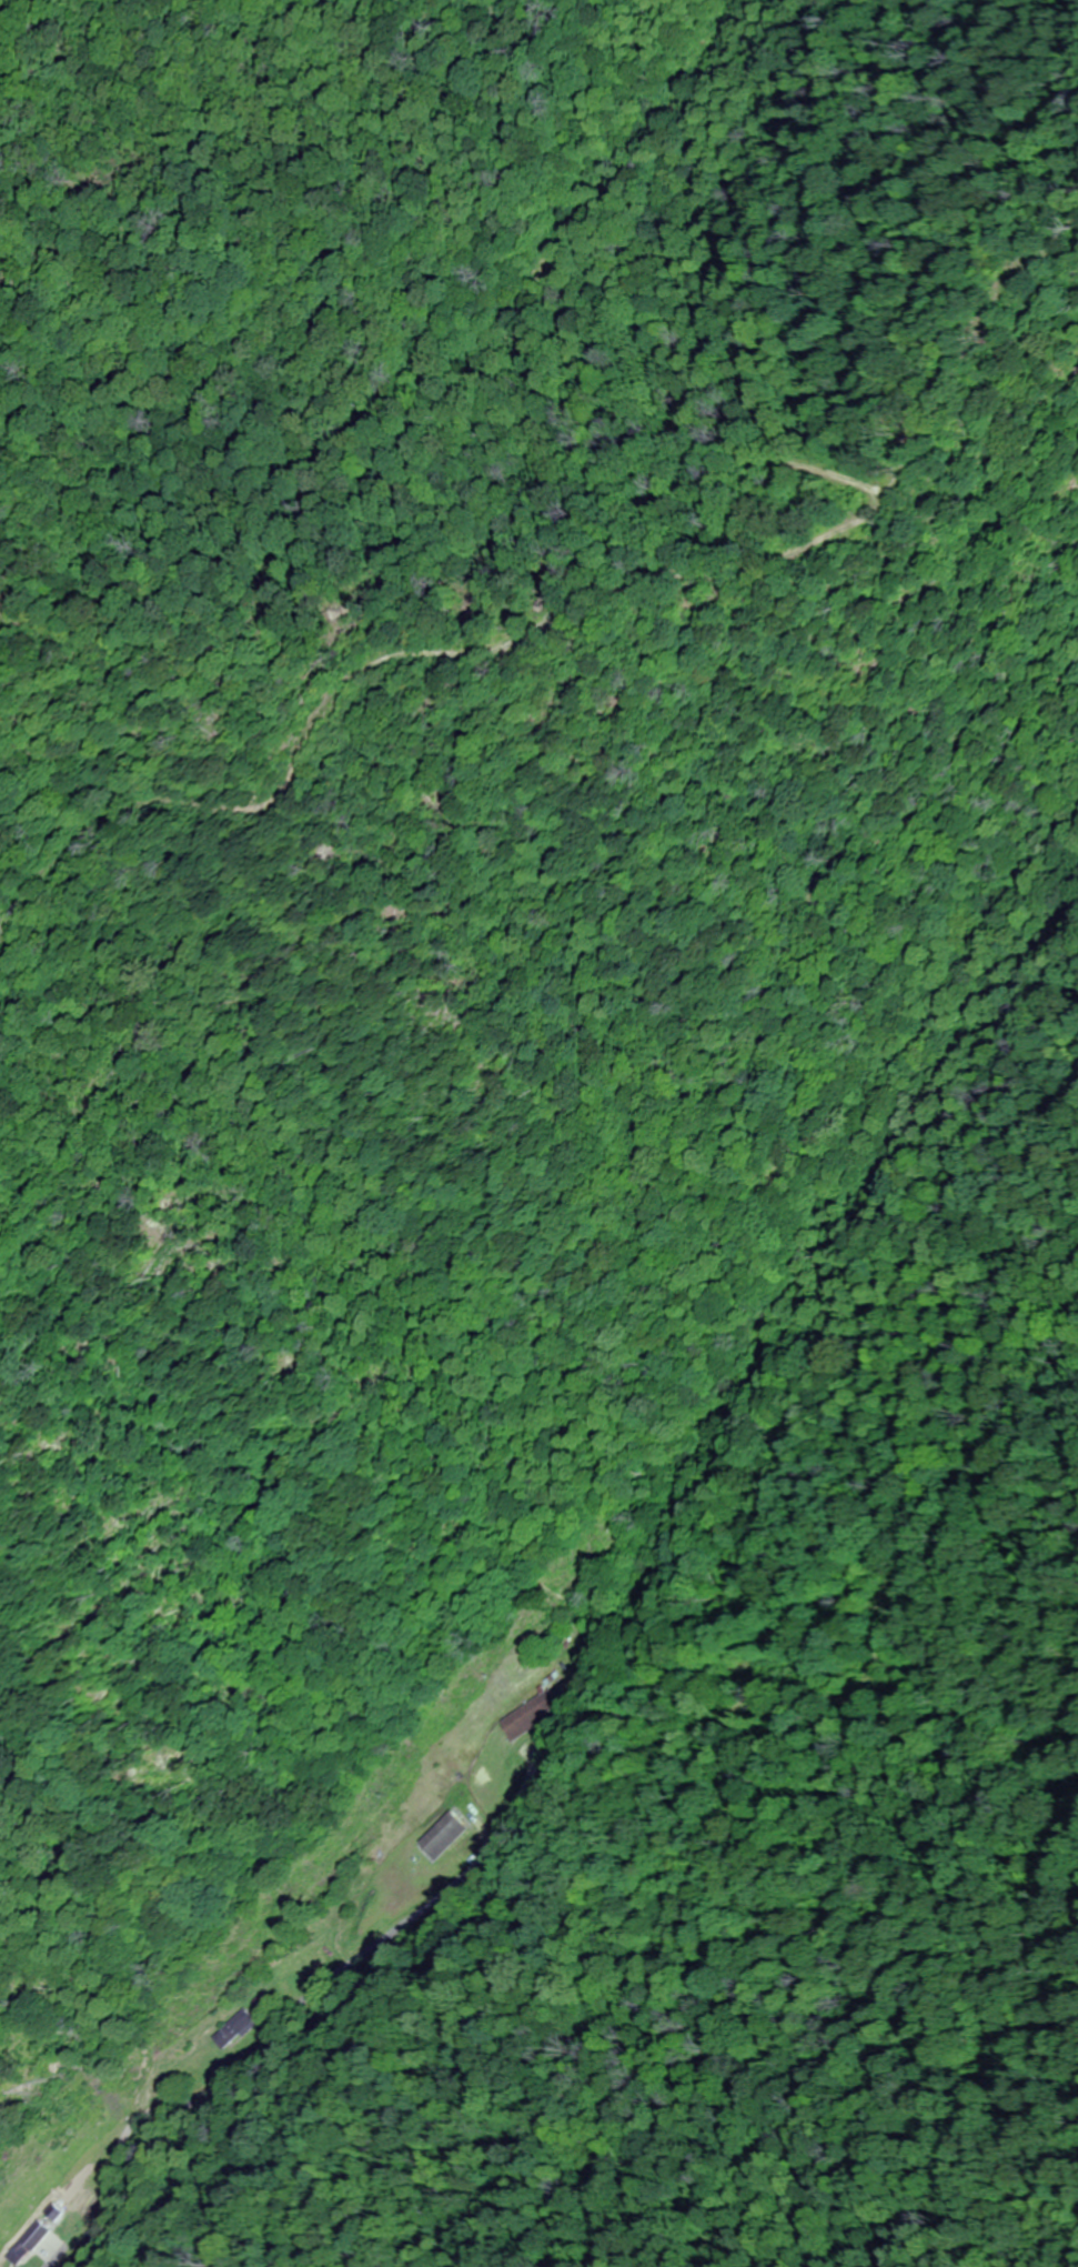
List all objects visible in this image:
building: (525, 1715)
building: (446, 1833)
building: (232, 2029)
building: (23, 2241)
road: (44, 2255)

